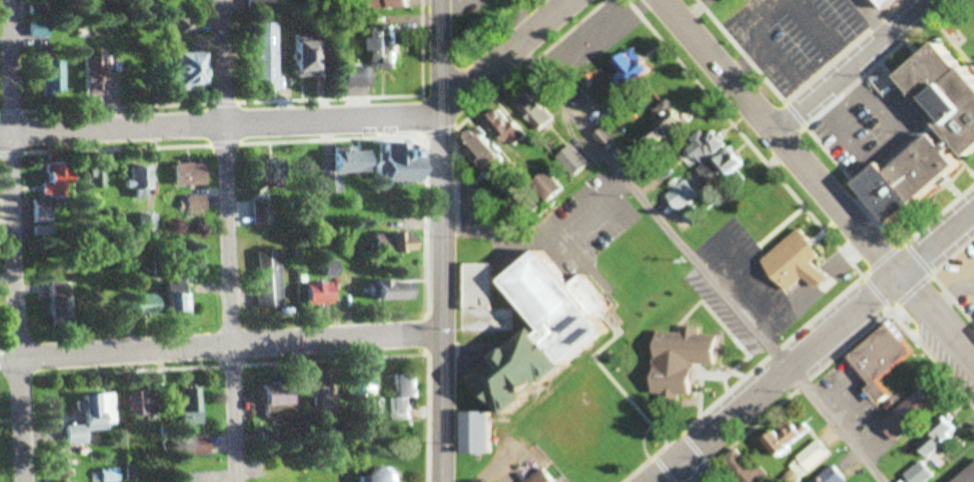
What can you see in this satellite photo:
building: (384, 2)
building: (895, 2)
building: (401, 3)
building: (263, 4)
building: (37, 11)
road: (873, 17)
building: (40, 29)
park: (938, 34)
building: (598, 39)
building: (386, 50)
road: (744, 51)
road: (848, 51)
road: (503, 55)
building: (268, 56)
building: (310, 57)
road: (536, 64)
road: (853, 64)
building: (194, 69)
building: (633, 70)
building: (97, 75)
road: (796, 76)
building: (359, 77)
building: (54, 78)
road: (854, 81)
road: (845, 104)
building: (534, 110)
building: (950, 110)
road: (829, 112)
road: (797, 116)
road: (219, 127)
building: (667, 127)
building: (509, 130)
road: (746, 137)
building: (609, 138)
building: (485, 149)
building: (716, 156)
park: (971, 160)
building: (397, 161)
building: (577, 163)
building: (346, 168)
building: (268, 170)
building: (191, 174)
building: (142, 183)
road: (819, 183)
building: (552, 184)
building: (54, 190)
building: (684, 195)
building: (198, 203)
building: (264, 211)
road: (939, 213)
road: (444, 240)
road: (15, 241)
road: (231, 241)
road: (428, 241)
building: (397, 242)
road: (846, 252)
building: (799, 260)
road: (955, 260)
road: (698, 265)
building: (332, 268)
building: (204, 274)
parking lot: (746, 275)
road: (746, 276)
building: (269, 280)
building: (352, 280)
building: (396, 290)
building: (322, 293)
building: (484, 299)
road: (955, 300)
building: (180, 303)
building: (147, 305)
road: (783, 305)
road: (952, 306)
building: (63, 309)
road: (896, 311)
building: (554, 332)
road: (233, 344)
road: (818, 352)
building: (684, 356)
building: (884, 356)
road: (934, 358)
road: (10, 360)
road: (262, 365)
road: (740, 376)
building: (321, 389)
road: (804, 389)
building: (365, 390)
building: (280, 392)
building: (405, 395)
building: (143, 403)
building: (191, 405)
building: (913, 412)
building: (94, 418)
building: (480, 431)
building: (940, 436)
building: (790, 438)
building: (197, 445)
road: (705, 457)
building: (808, 462)
building: (282, 467)
road: (662, 468)
building: (746, 468)
road: (692, 472)
building: (922, 473)
building: (965, 474)
building: (377, 476)
building: (834, 476)
building: (546, 477)

